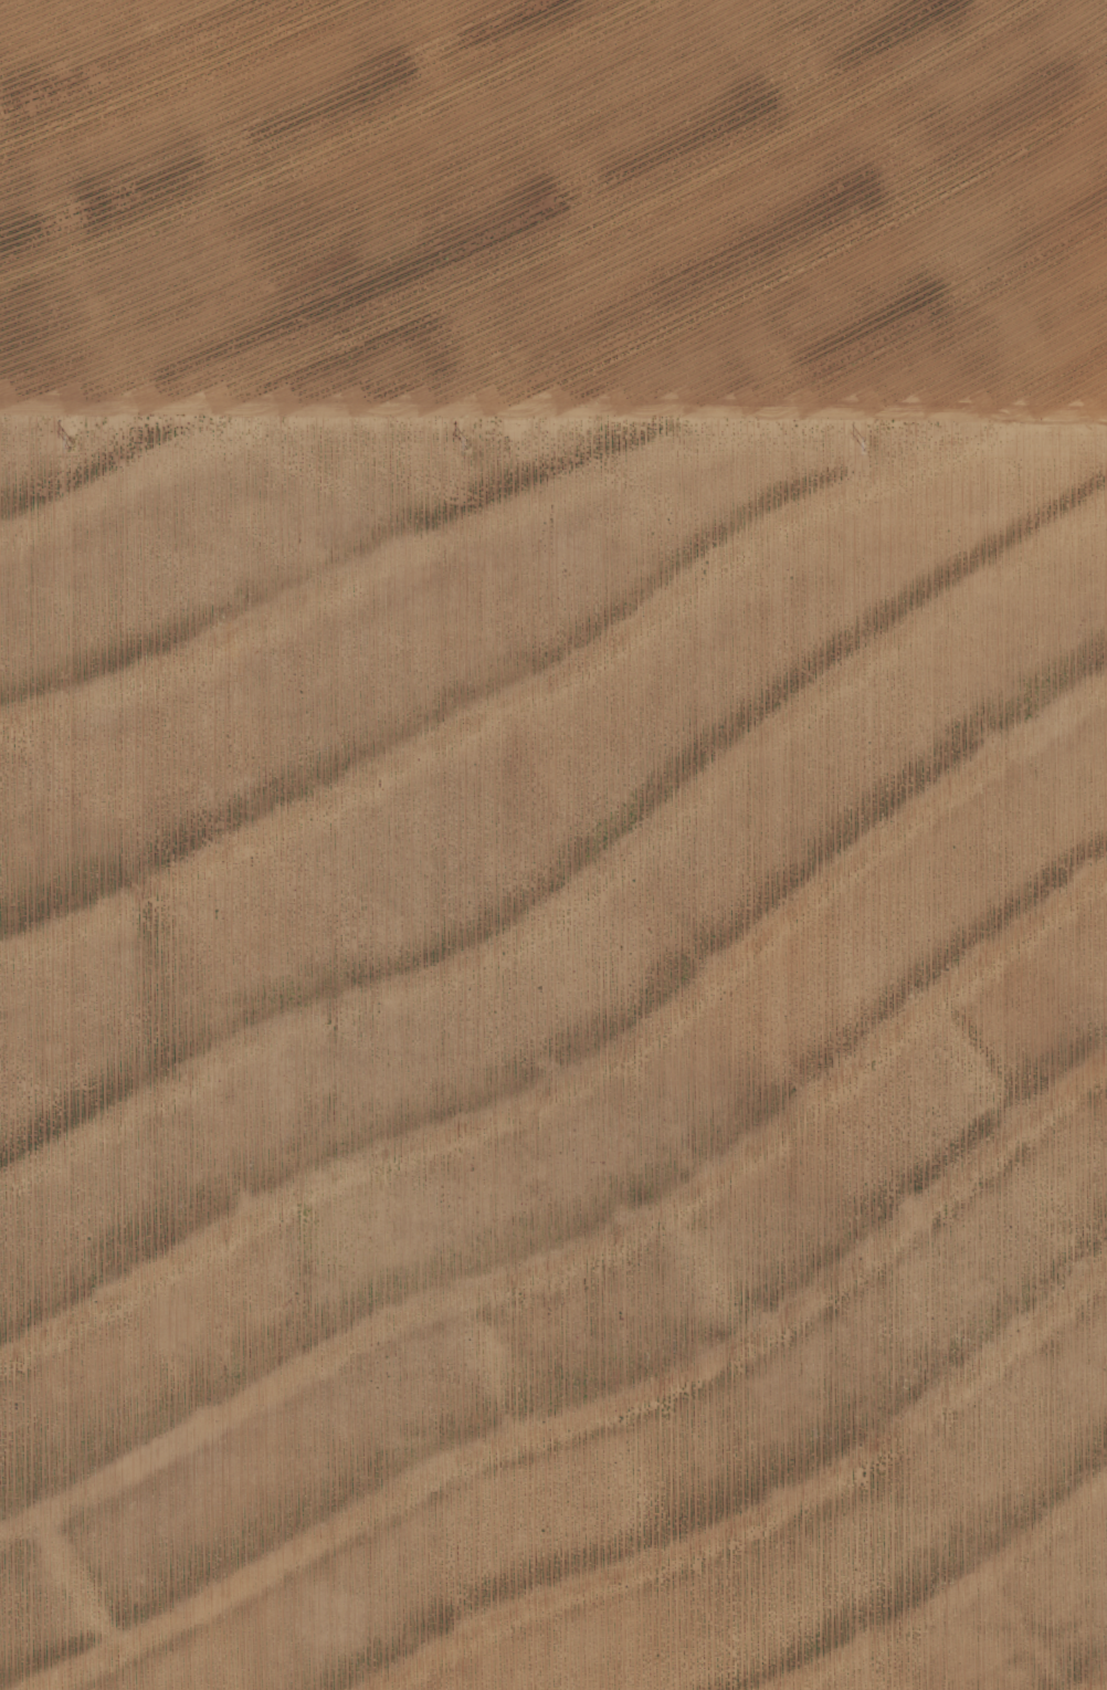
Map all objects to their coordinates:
road: (553, 433)
power tower: (66, 439)
power tower: (462, 443)
power tower: (860, 447)

